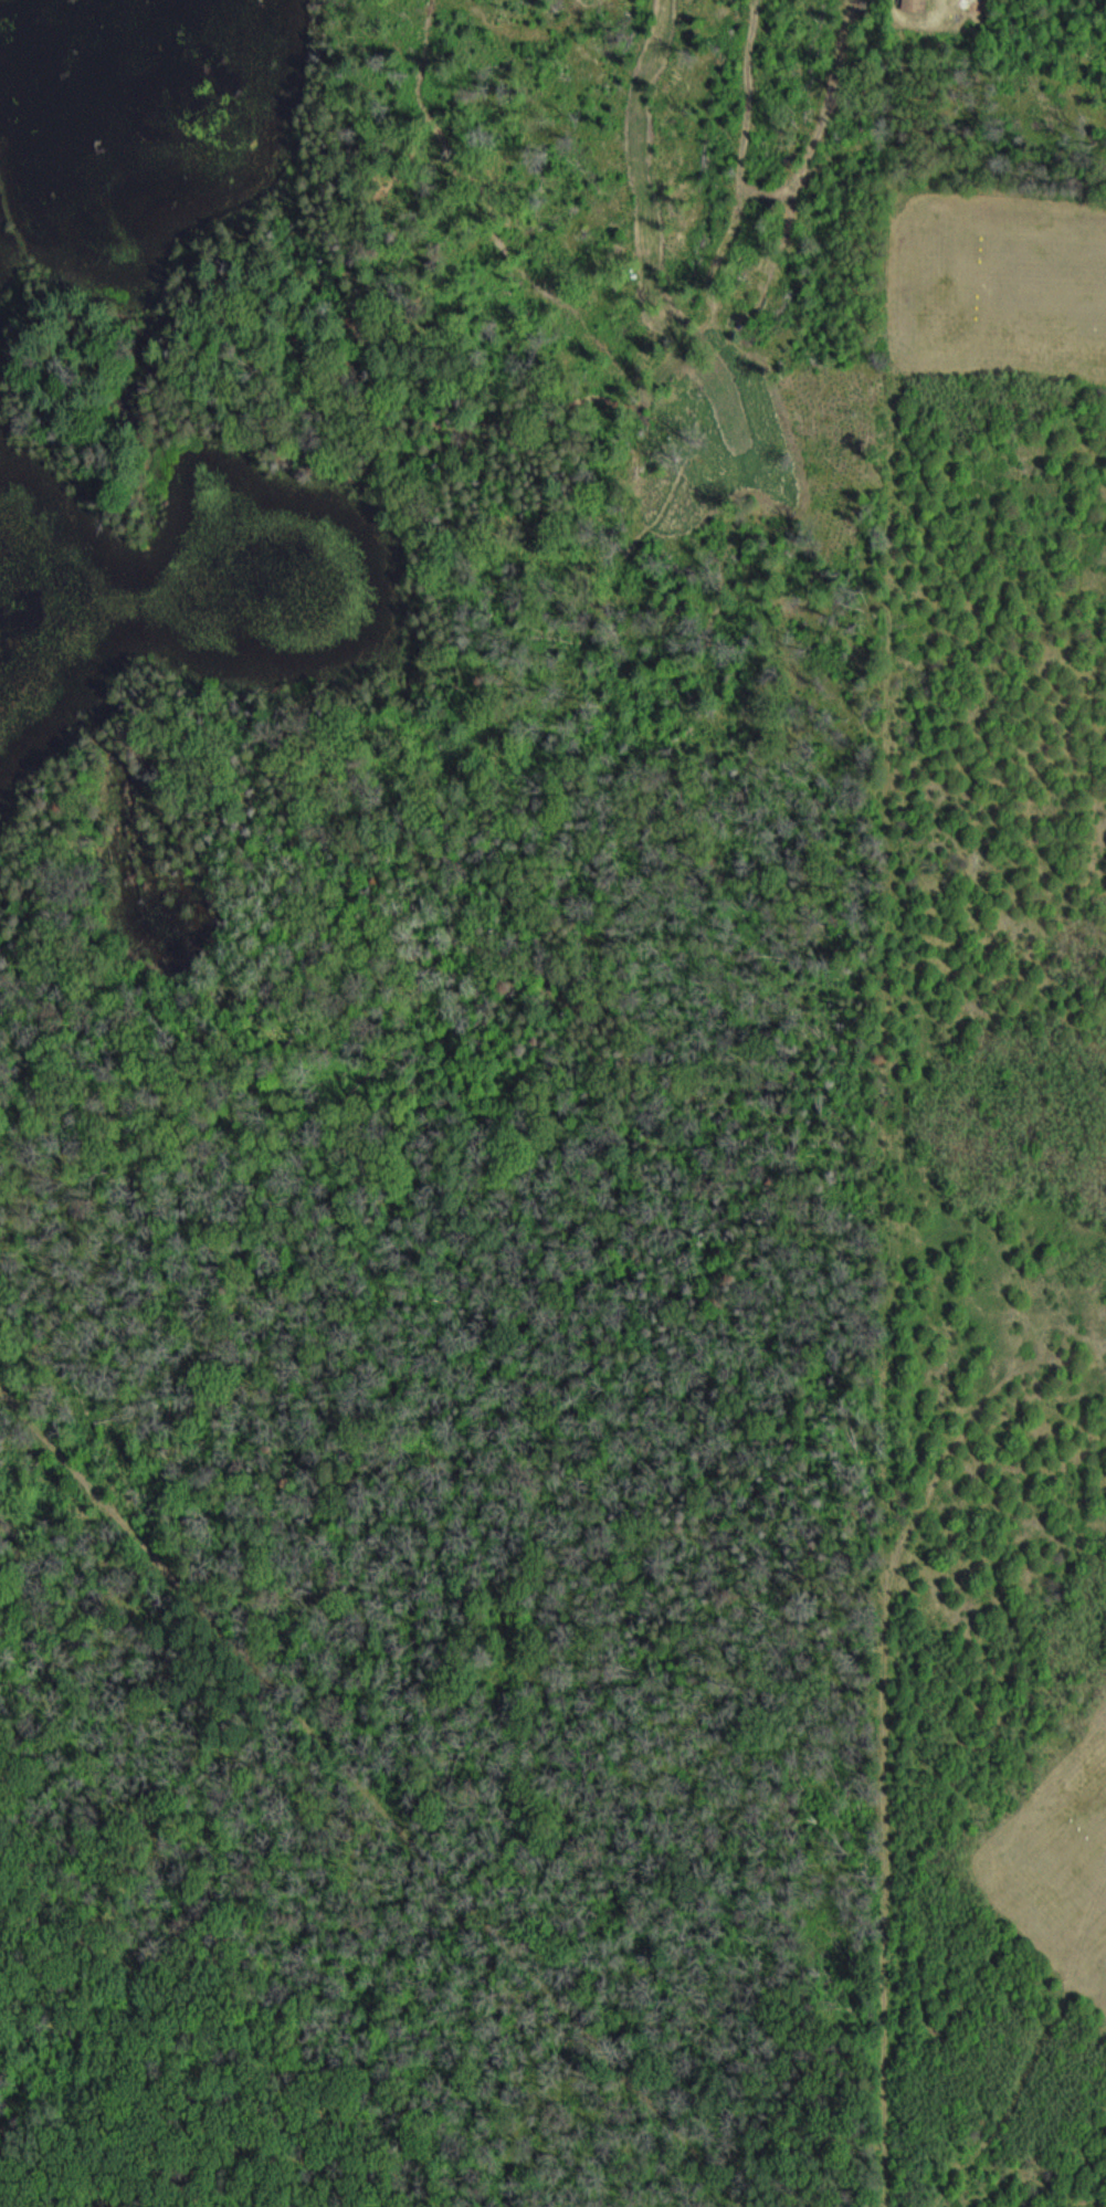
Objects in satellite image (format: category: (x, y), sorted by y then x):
building: (919, 6)
airport: (997, 284)
road: (369, 1784)
airport: (1058, 1857)

